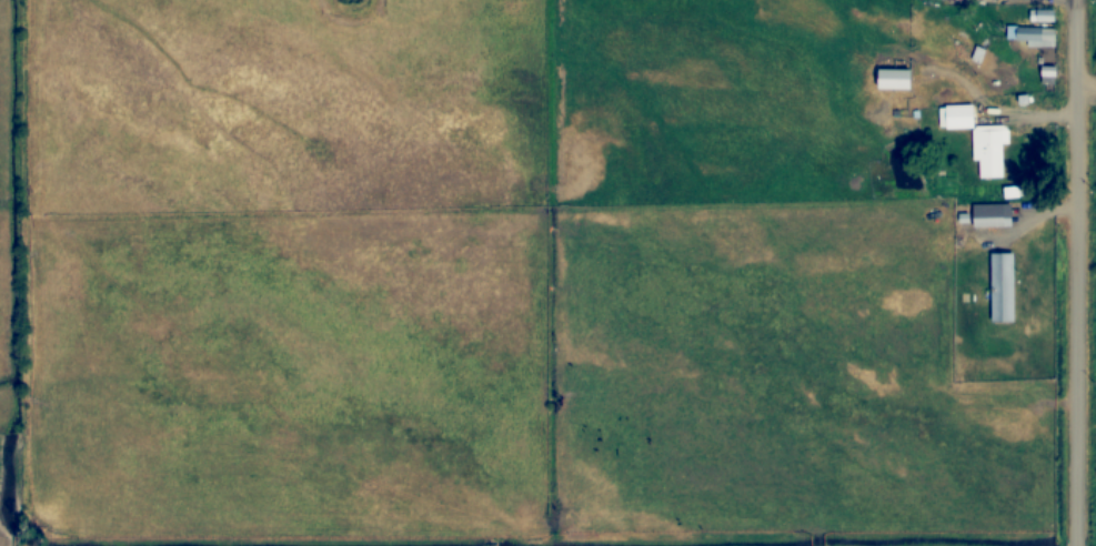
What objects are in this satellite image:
building: (1039, 16)
building: (1034, 36)
building: (1046, 72)
building: (892, 80)
building: (957, 118)
building: (986, 150)
building: (991, 216)
road: (1076, 273)
building: (999, 287)

